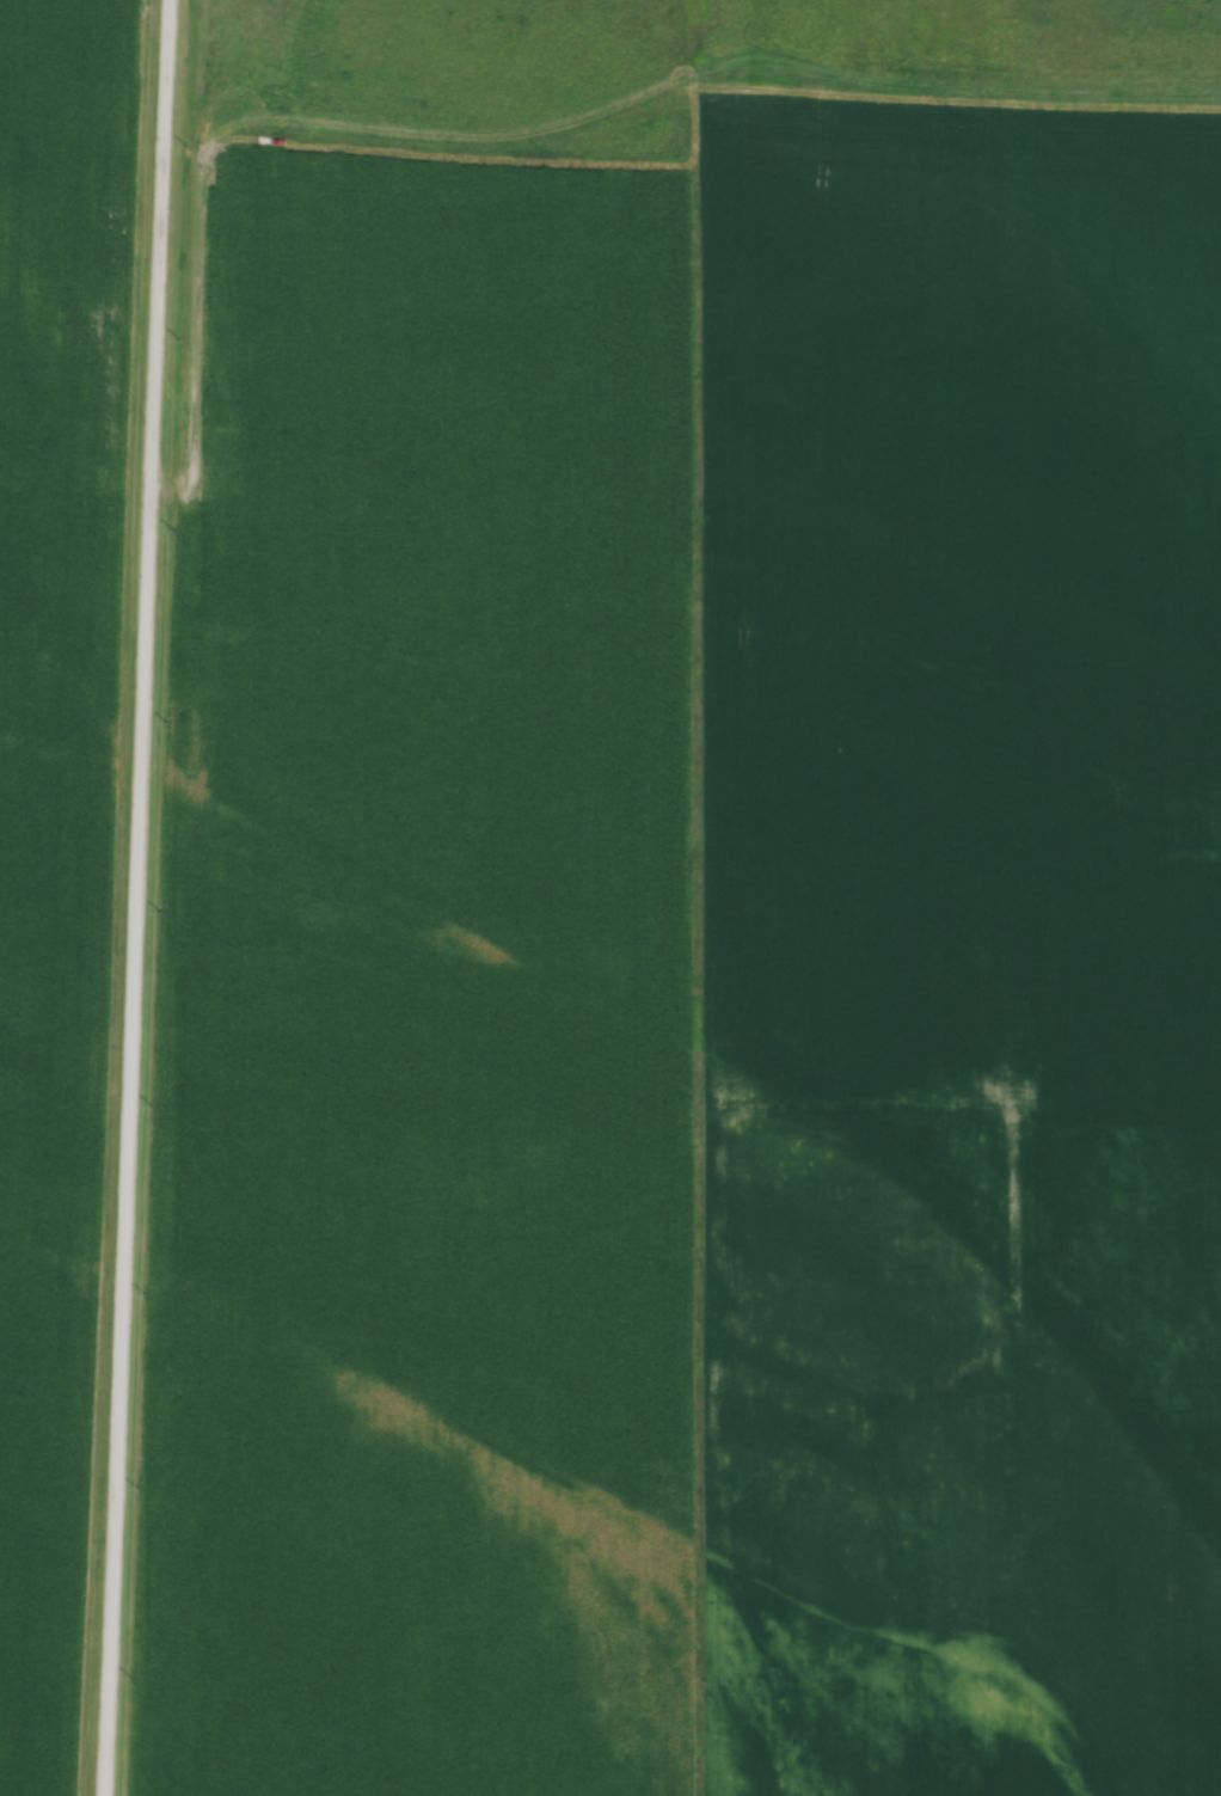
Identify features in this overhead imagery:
road: (136, 897)

